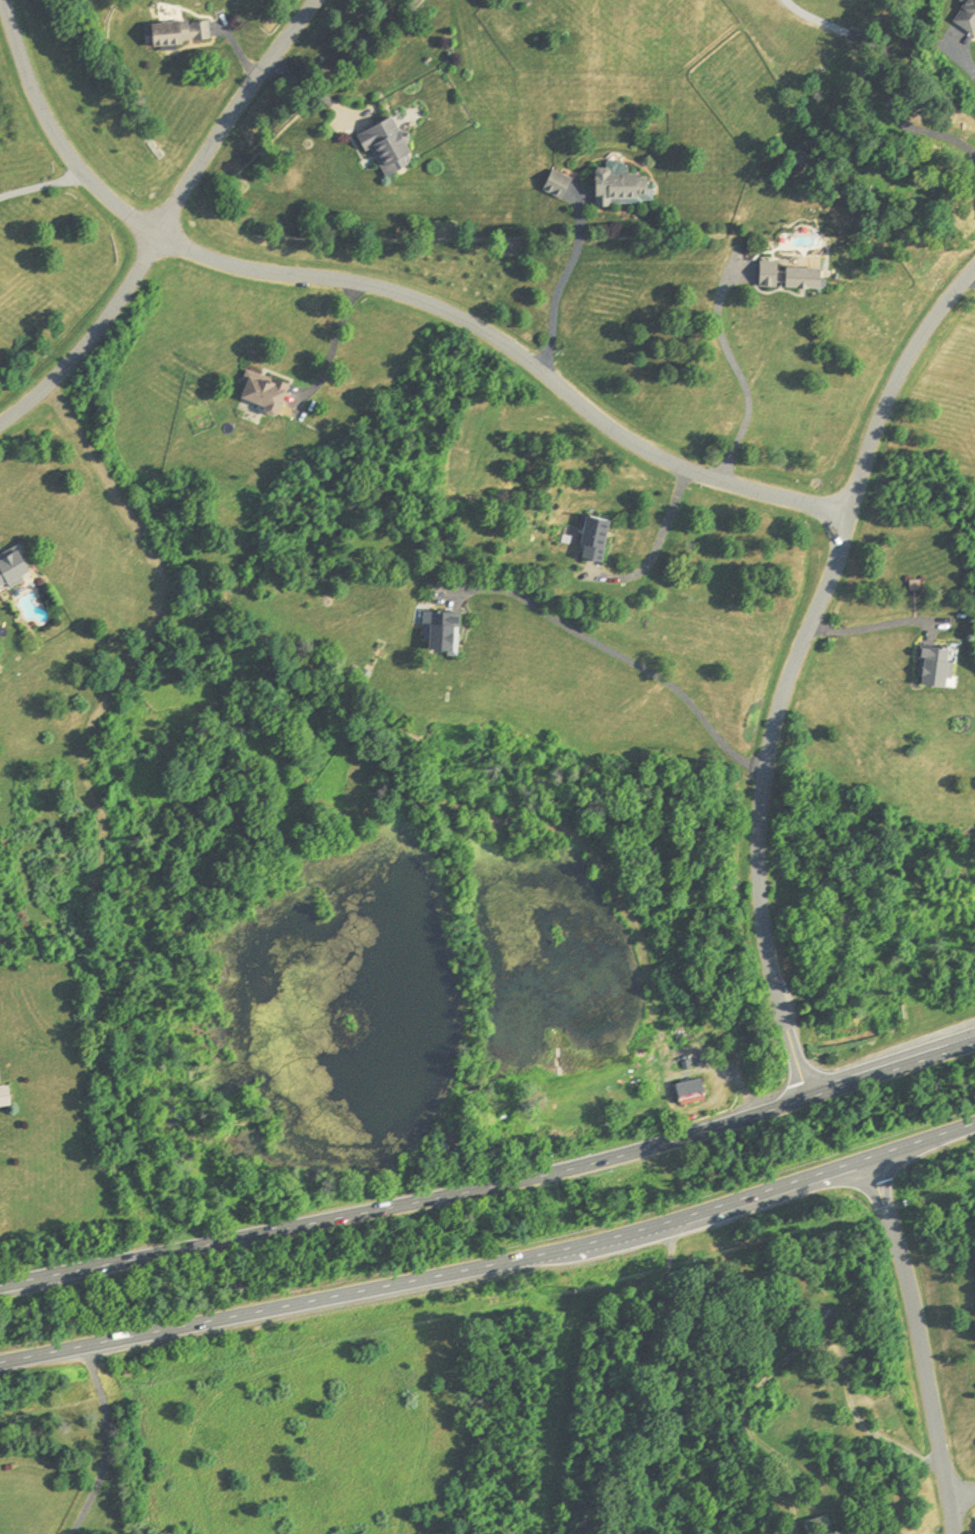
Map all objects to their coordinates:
building: (966, 17)
building: (172, 33)
road: (965, 61)
road: (887, 73)
road: (310, 91)
road: (231, 115)
building: (383, 148)
building: (799, 160)
road: (40, 186)
building: (620, 188)
building: (786, 275)
road: (561, 279)
road: (379, 292)
road: (90, 341)
road: (332, 347)
road: (736, 370)
building: (260, 394)
building: (589, 539)
road: (657, 543)
building: (9, 568)
road: (871, 625)
building: (440, 633)
road: (622, 659)
building: (932, 667)
road: (790, 670)
building: (687, 1093)
building: (2, 1098)
road: (492, 1189)
road: (491, 1263)
building: (823, 1319)
road: (916, 1346)
road: (860, 1422)
road: (106, 1441)
road: (959, 1498)
building: (818, 1526)

